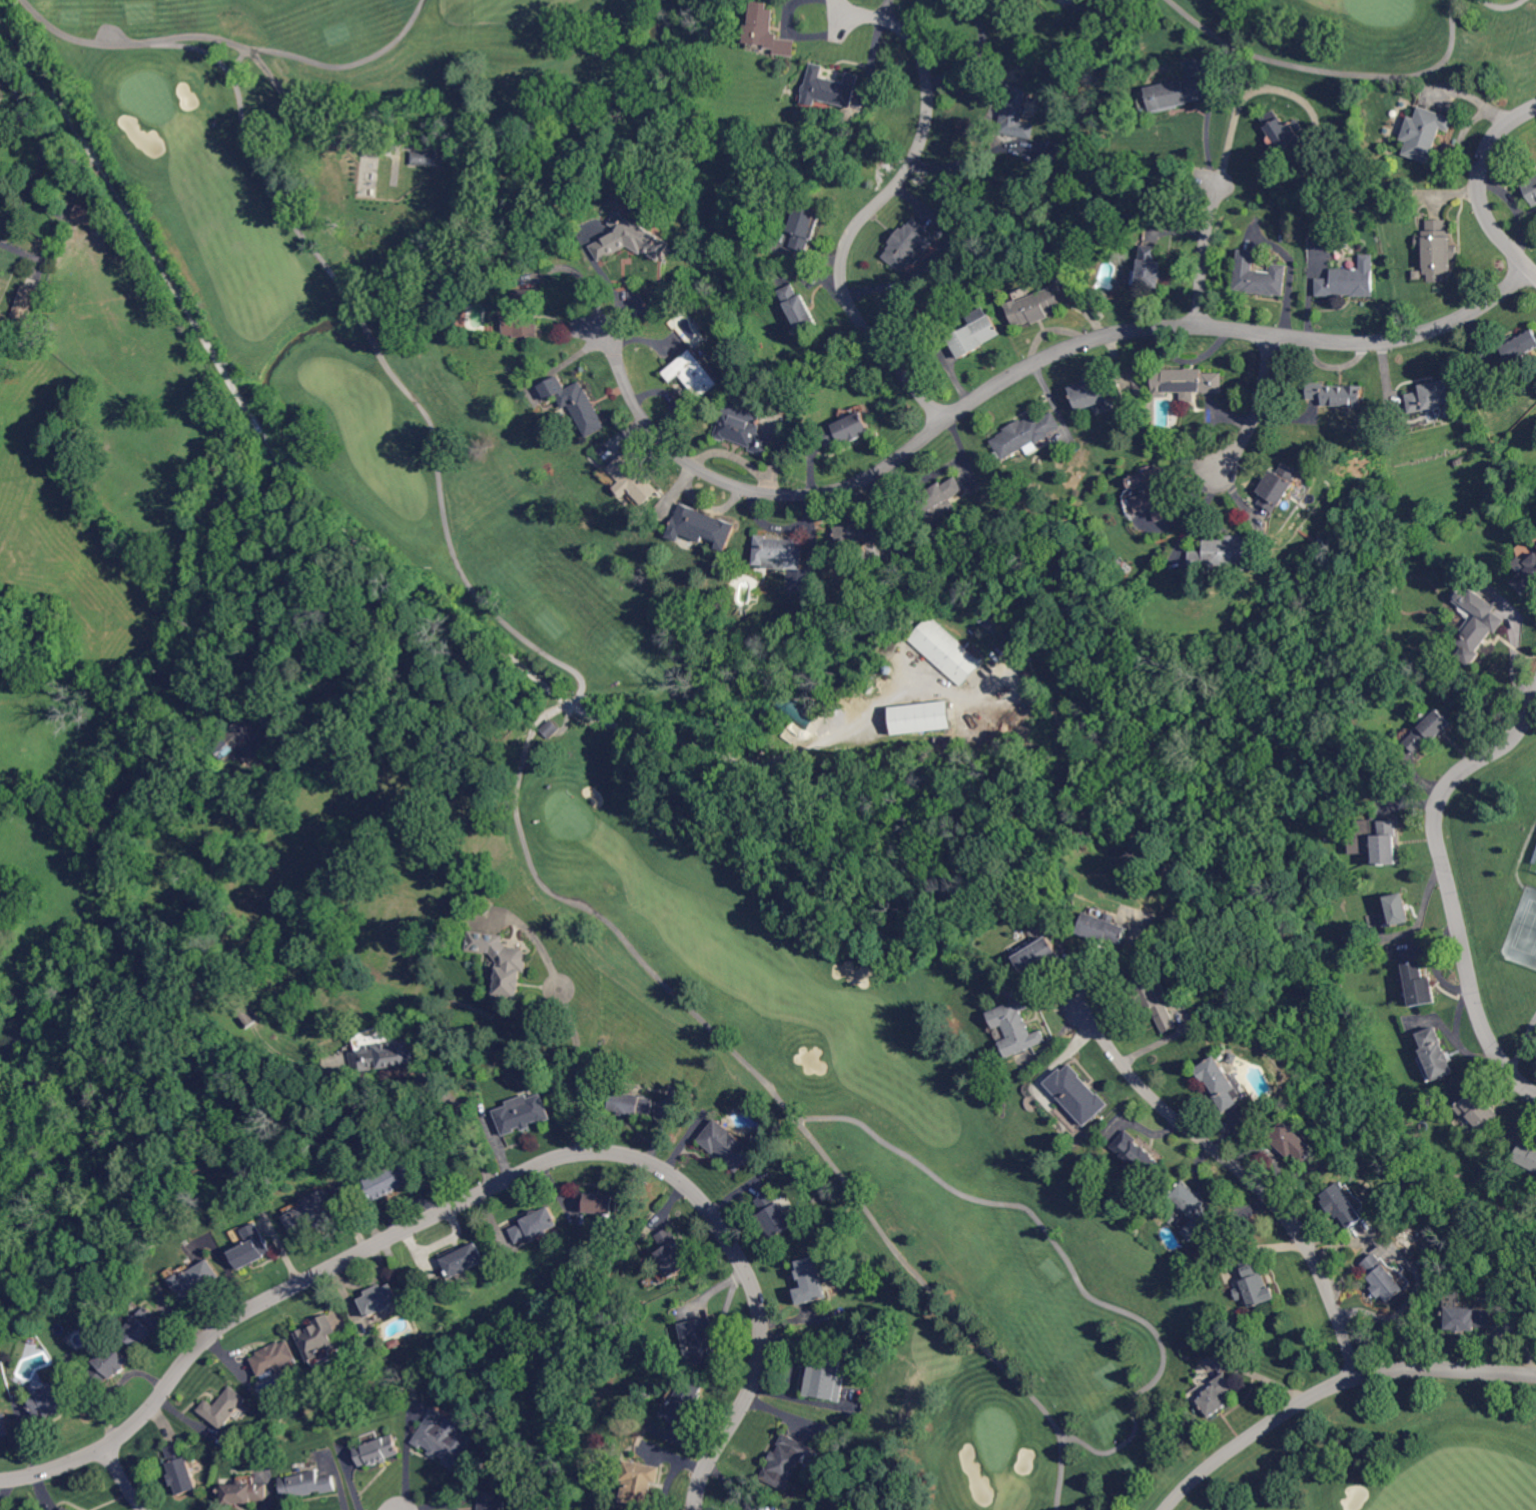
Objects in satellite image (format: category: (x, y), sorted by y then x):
road: (1503, 5)
road: (885, 9)
building: (770, 30)
road: (80, 39)
road: (975, 52)
road: (347, 63)
road: (1330, 71)
building: (830, 89)
building: (1175, 94)
building: (1018, 113)
road: (300, 117)
road: (1208, 125)
building: (1426, 134)
building: (1287, 135)
building: (426, 158)
road: (959, 162)
road: (260, 169)
road: (1480, 188)
building: (1530, 189)
road: (876, 206)
building: (91, 216)
building: (806, 226)
road: (59, 231)
building: (942, 234)
building: (635, 239)
building: (911, 244)
building: (1438, 251)
road: (1205, 255)
building: (1152, 267)
building: (1260, 275)
building: (1418, 275)
building: (1350, 280)
building: (1038, 306)
building: (23, 308)
building: (799, 308)
building: (527, 314)
building: (2, 318)
building: (978, 332)
road: (374, 340)
building: (1518, 345)
road: (1024, 370)
building: (694, 376)
building: (1187, 382)
building: (1096, 392)
building: (1337, 394)
building: (1429, 396)
building: (577, 404)
road: (1258, 409)
road: (256, 420)
building: (746, 426)
building: (848, 429)
building: (1026, 433)
building: (634, 480)
building: (1278, 487)
building: (1155, 490)
building: (937, 501)
building: (701, 527)
building: (861, 535)
road: (449, 543)
building: (1224, 553)
building: (778, 554)
building: (1527, 574)
road: (279, 590)
building: (992, 619)
building: (1478, 624)
building: (946, 650)
building: (889, 671)
building: (388, 678)
park: (892, 682)
building: (798, 712)
building: (922, 718)
building: (550, 729)
building: (1430, 730)
building: (249, 742)
building: (946, 746)
building: (1386, 843)
building: (444, 854)
road: (1449, 886)
building: (1398, 909)
road: (591, 910)
building: (1106, 929)
building: (1040, 957)
building: (504, 961)
building: (1419, 984)
building: (1156, 1000)
building: (252, 1014)
building: (1016, 1028)
road: (580, 1045)
building: (384, 1050)
building: (1436, 1054)
building: (1219, 1083)
building: (1078, 1093)
building: (633, 1102)
building: (524, 1113)
building: (1479, 1113)
road: (470, 1128)
building: (1294, 1142)
building: (727, 1146)
road: (897, 1149)
building: (1136, 1153)
building: (1527, 1154)
building: (396, 1177)
road: (1250, 1177)
road: (486, 1190)
building: (599, 1204)
building: (1343, 1204)
building: (1196, 1210)
building: (316, 1214)
building: (776, 1216)
building: (535, 1226)
building: (256, 1245)
building: (672, 1252)
building: (463, 1259)
building: (1384, 1279)
building: (810, 1280)
building: (196, 1281)
building: (1255, 1284)
building: (381, 1301)
building: (1469, 1318)
building: (145, 1326)
building: (319, 1337)
building: (701, 1340)
building: (274, 1357)
building: (110, 1365)
building: (827, 1378)
road: (1331, 1386)
building: (1218, 1394)
building: (53, 1401)
building: (687, 1401)
building: (224, 1406)
building: (5, 1425)
building: (445, 1438)
building: (379, 1450)
building: (788, 1462)
building: (181, 1467)
road: (1060, 1471)
road: (122, 1478)
building: (308, 1484)
building: (641, 1484)
building: (245, 1492)
building: (491, 1500)
building: (66, 1509)

